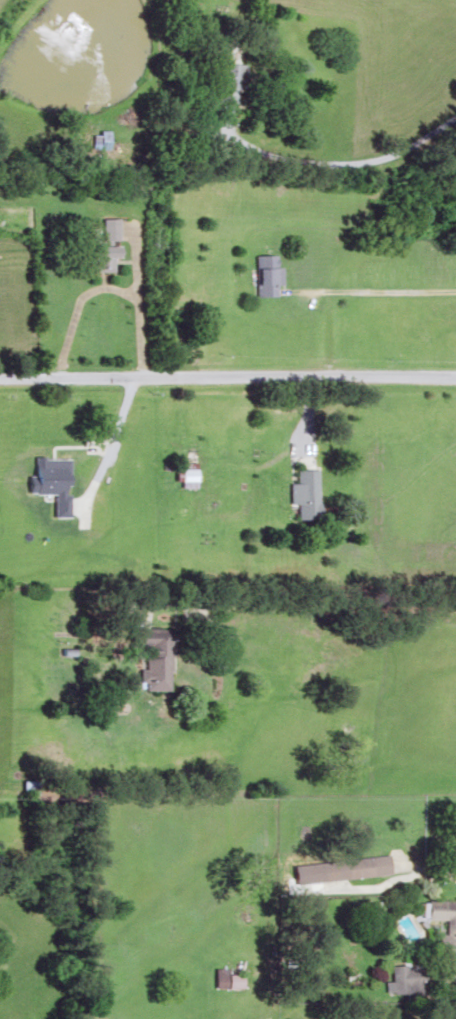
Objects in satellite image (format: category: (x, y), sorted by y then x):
building: (224, 80)
road: (339, 159)
building: (94, 253)
building: (263, 273)
road: (101, 286)
road: (373, 291)
road: (228, 376)
building: (176, 474)
building: (301, 493)
building: (150, 655)
building: (356, 866)
building: (442, 924)
building: (222, 978)

